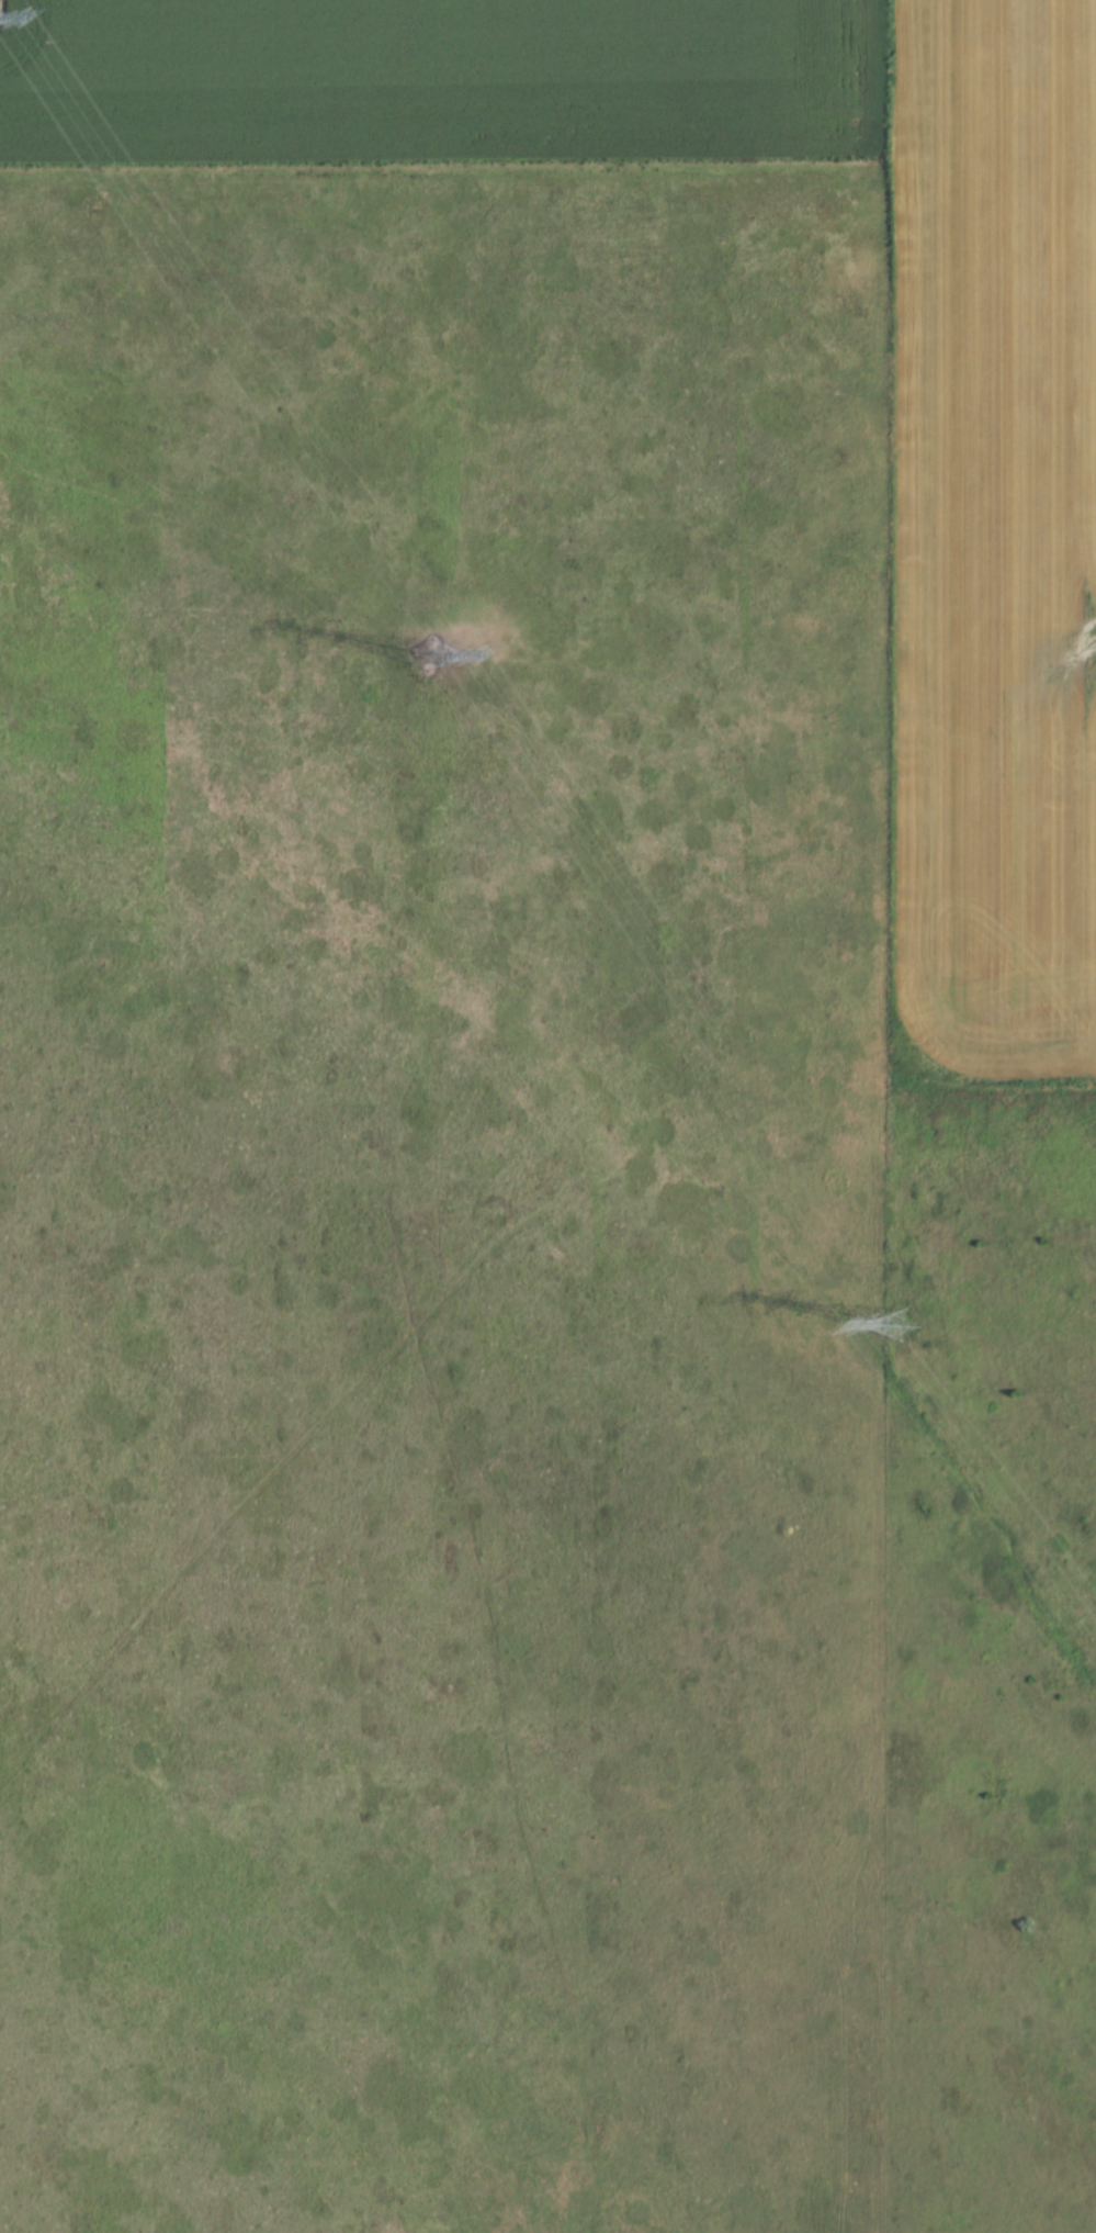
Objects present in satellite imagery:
crop: (993, 537)
power tower: (428, 655)
power tower: (900, 1324)

